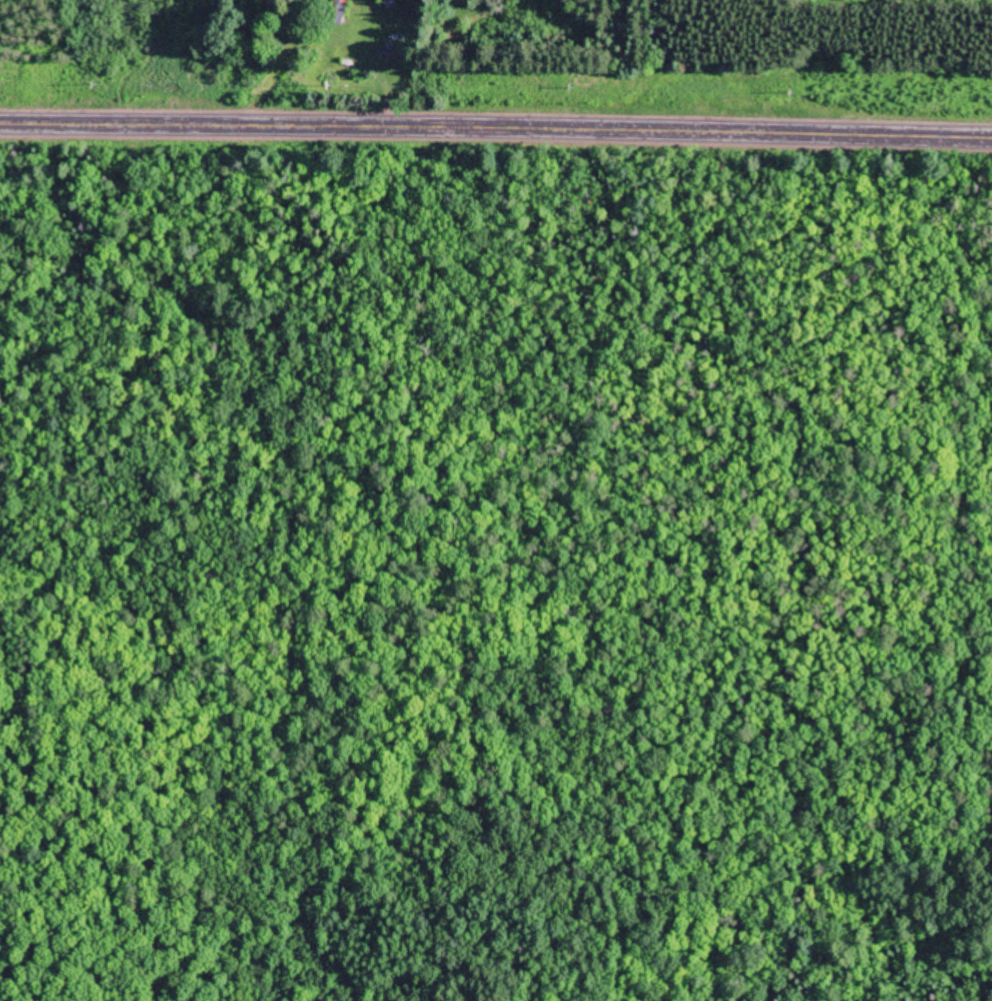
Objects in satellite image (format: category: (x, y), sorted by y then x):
building: (389, 3)
building: (337, 10)
building: (396, 50)
power tower: (101, 84)
power tower: (337, 86)
power tower: (578, 88)
power tower: (794, 91)
road: (496, 128)

